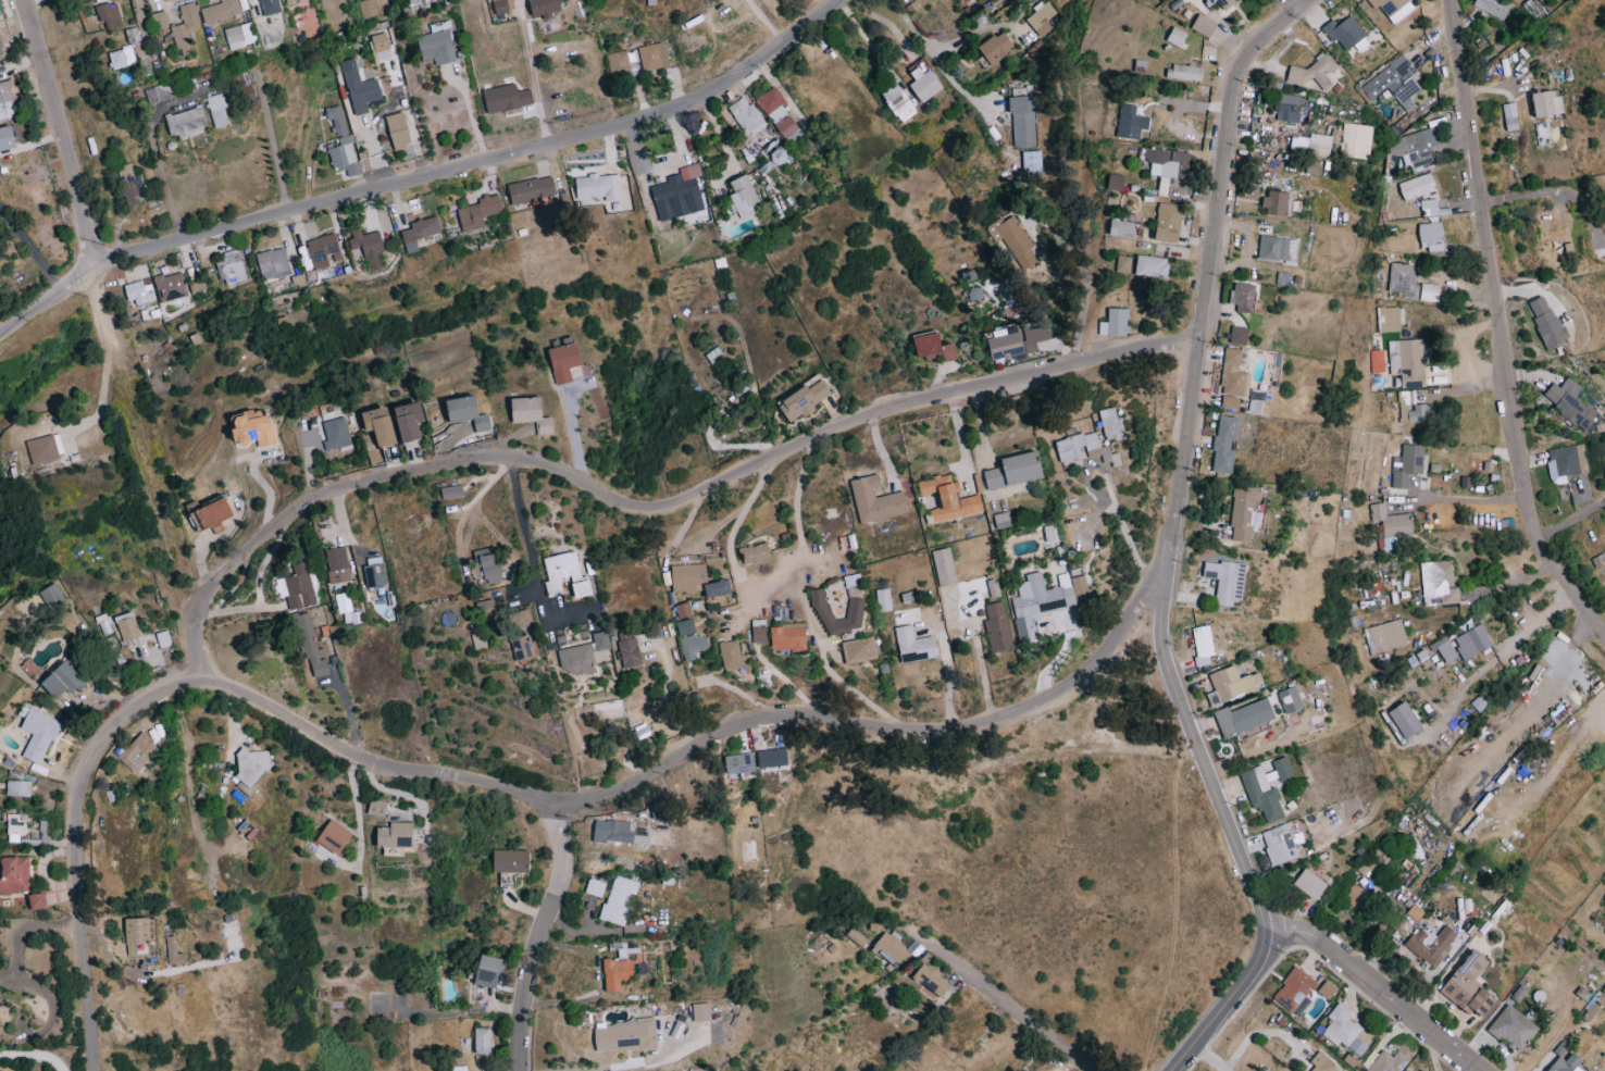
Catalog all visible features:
building: (288, 2)
building: (418, 2)
road: (1295, 2)
building: (1222, 3)
building: (270, 7)
building: (1493, 7)
building: (368, 8)
building: (500, 8)
building: (544, 8)
building: (1393, 8)
building: (221, 11)
building: (110, 15)
building: (1042, 18)
building: (160, 21)
building: (1204, 25)
building: (185, 27)
building: (1345, 33)
building: (239, 36)
building: (1177, 37)
building: (1215, 38)
building: (437, 43)
building: (382, 47)
building: (996, 47)
building: (0, 52)
building: (652, 57)
building: (121, 58)
road: (935, 60)
building: (621, 63)
building: (1140, 66)
building: (1184, 72)
building: (1316, 73)
road: (533, 75)
building: (1394, 84)
building: (360, 88)
building: (157, 92)
building: (507, 98)
building: (5, 100)
building: (899, 101)
building: (1546, 103)
building: (772, 104)
building: (1289, 109)
building: (217, 110)
road: (470, 112)
building: (745, 115)
building: (1510, 116)
building: (1023, 120)
building: (186, 122)
building: (1131, 122)
building: (786, 126)
road: (58, 130)
building: (398, 130)
building: (8, 138)
building: (1354, 139)
building: (341, 144)
road: (271, 145)
building: (1310, 145)
building: (1415, 146)
building: (1031, 162)
road: (158, 163)
building: (1166, 165)
building: (125, 170)
road: (415, 174)
building: (1116, 183)
building: (597, 187)
building: (673, 187)
building: (1417, 187)
building: (132, 190)
road: (1554, 190)
building: (744, 196)
building: (1277, 203)
building: (1429, 207)
building: (478, 212)
building: (1168, 223)
building: (1122, 229)
building: (420, 233)
building: (1431, 237)
building: (1013, 239)
road: (29, 248)
building: (369, 248)
building: (1274, 248)
building: (322, 252)
building: (273, 263)
building: (1123, 264)
building: (1152, 266)
building: (229, 267)
road: (1083, 274)
building: (1404, 279)
building: (170, 286)
building: (1430, 291)
building: (140, 292)
building: (1244, 297)
building: (1390, 319)
building: (1546, 321)
building: (1115, 322)
road: (1496, 328)
building: (1239, 334)
building: (1017, 340)
building: (934, 346)
building: (714, 354)
road: (107, 356)
building: (564, 360)
building: (1407, 361)
building: (1234, 373)
building: (806, 399)
building: (1230, 400)
building: (1570, 401)
building: (1046, 407)
building: (469, 411)
building: (1418, 412)
building: (532, 413)
building: (410, 420)
building: (1117, 422)
building: (381, 424)
building: (254, 426)
building: (335, 433)
road: (573, 436)
building: (1225, 444)
building: (1085, 445)
building: (42, 449)
building: (1566, 462)
building: (1409, 463)
building: (1020, 469)
building: (451, 490)
building: (955, 497)
building: (881, 499)
road: (1471, 499)
road: (679, 507)
building: (211, 512)
building: (1245, 512)
building: (1008, 518)
road: (1568, 520)
building: (1390, 524)
road: (1174, 539)
building: (760, 551)
road: (531, 560)
building: (492, 562)
building: (337, 564)
building: (950, 565)
building: (572, 573)
building: (375, 574)
road: (772, 575)
building: (694, 576)
building: (858, 578)
building: (1227, 580)
building: (1435, 581)
building: (296, 587)
building: (723, 587)
building: (52, 596)
building: (889, 598)
building: (1045, 600)
building: (492, 608)
building: (689, 609)
building: (860, 611)
building: (127, 625)
building: (1003, 626)
building: (764, 631)
building: (1385, 635)
building: (794, 636)
building: (696, 638)
building: (1473, 642)
building: (919, 644)
building: (1203, 644)
building: (526, 647)
road: (199, 648)
building: (312, 648)
building: (864, 648)
building: (1445, 648)
building: (635, 651)
building: (588, 653)
building: (736, 655)
road: (824, 667)
building: (62, 680)
building: (1234, 681)
building: (1206, 684)
road: (1541, 697)
building: (1290, 699)
road: (348, 711)
building: (1244, 718)
building: (1406, 720)
building: (39, 734)
building: (137, 751)
building: (773, 757)
building: (739, 762)
building: (251, 763)
building: (1283, 768)
building: (17, 787)
building: (1262, 790)
road: (397, 792)
road: (530, 799)
building: (377, 807)
building: (658, 807)
road: (356, 809)
building: (15, 824)
building: (617, 832)
building: (397, 834)
building: (335, 836)
building: (1280, 844)
building: (511, 860)
building: (15, 874)
building: (1311, 883)
building: (595, 886)
building: (1357, 896)
building: (618, 899)
building: (38, 900)
road: (27, 926)
building: (138, 935)
road: (537, 937)
building: (857, 937)
building: (1431, 943)
building: (171, 947)
building: (891, 949)
building: (621, 966)
building: (489, 971)
building: (932, 980)
building: (1471, 986)
road: (1378, 987)
building: (1295, 991)
road: (1010, 998)
building: (1, 1002)
building: (1594, 1007)
building: (701, 1011)
building: (1514, 1028)
building: (1344, 1030)
road: (1259, 1033)
building: (0, 1034)
building: (625, 1035)
building: (482, 1039)
road: (34, 1054)
building: (1560, 1054)
road: (1209, 1059)
building: (1389, 1062)
building: (1323, 1063)
road: (599, 1067)
building: (871, 1068)
building: (1407, 1070)
building: (1421, 1070)

